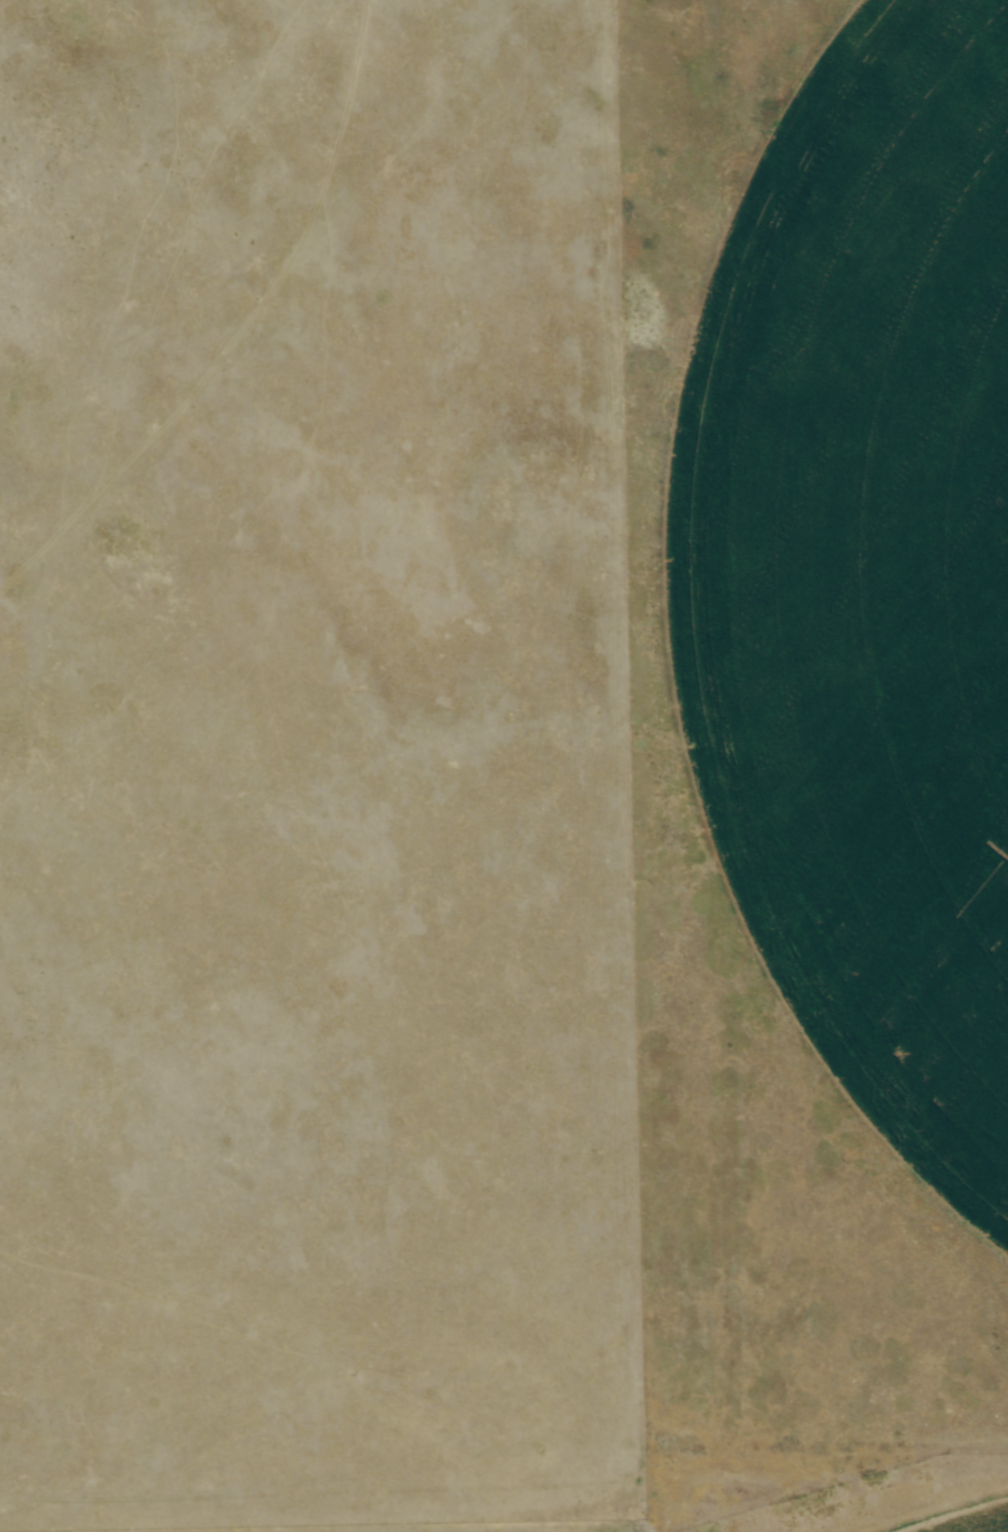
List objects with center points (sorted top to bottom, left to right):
crop: (866, 572)
crop: (977, 1523)

